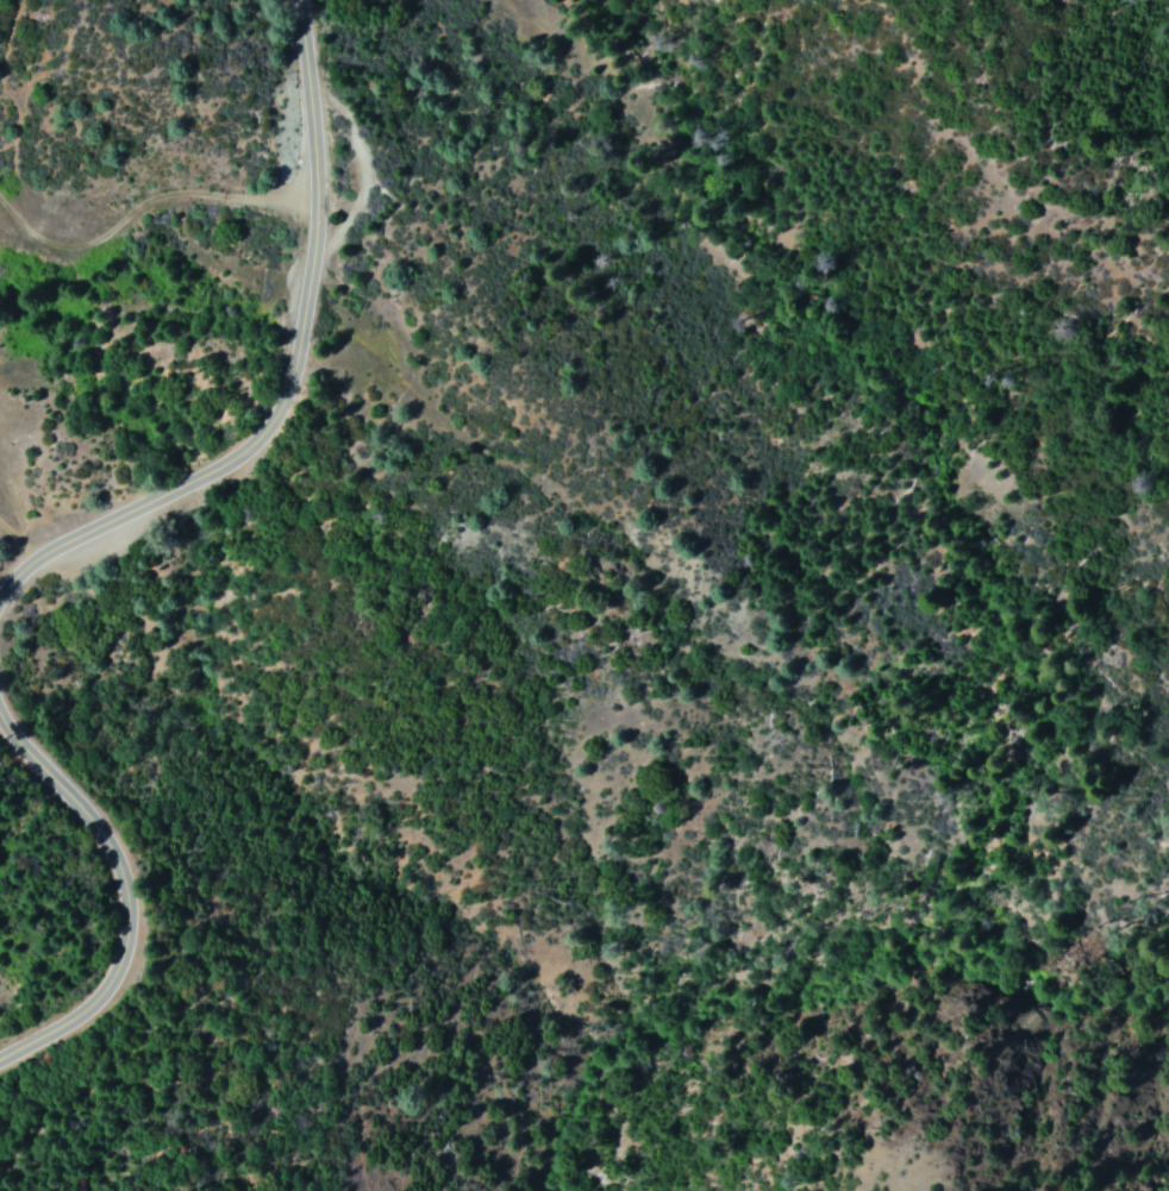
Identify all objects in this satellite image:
road: (293, 378)
road: (127, 898)

